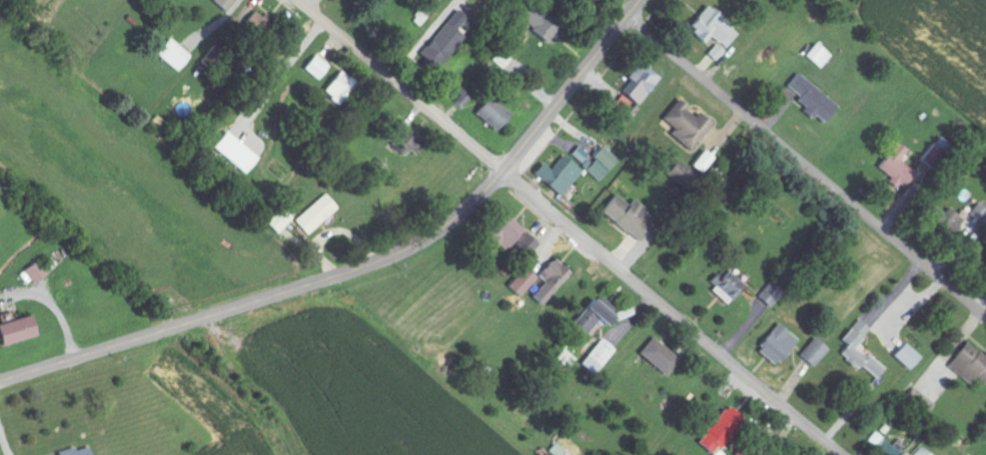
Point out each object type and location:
building: (223, 4)
building: (423, 12)
building: (259, 22)
building: (535, 27)
building: (711, 27)
building: (441, 42)
building: (171, 55)
building: (313, 67)
building: (638, 84)
road: (398, 86)
building: (336, 87)
road: (572, 87)
building: (810, 98)
building: (488, 113)
building: (682, 124)
building: (402, 140)
building: (231, 152)
building: (579, 154)
building: (598, 162)
road: (806, 165)
building: (894, 167)
building: (682, 172)
building: (556, 175)
building: (314, 214)
building: (976, 214)
building: (624, 216)
building: (941, 217)
building: (500, 233)
building: (523, 245)
building: (33, 272)
building: (549, 280)
building: (520, 281)
building: (724, 286)
road: (262, 298)
road: (53, 304)
road: (669, 314)
building: (588, 318)
building: (14, 330)
building: (774, 344)
building: (857, 350)
building: (811, 352)
building: (904, 356)
building: (596, 357)
building: (657, 357)
building: (565, 358)
road: (460, 362)
building: (968, 364)
building: (918, 401)
building: (718, 431)
road: (4, 439)
building: (72, 451)
building: (918, 451)

